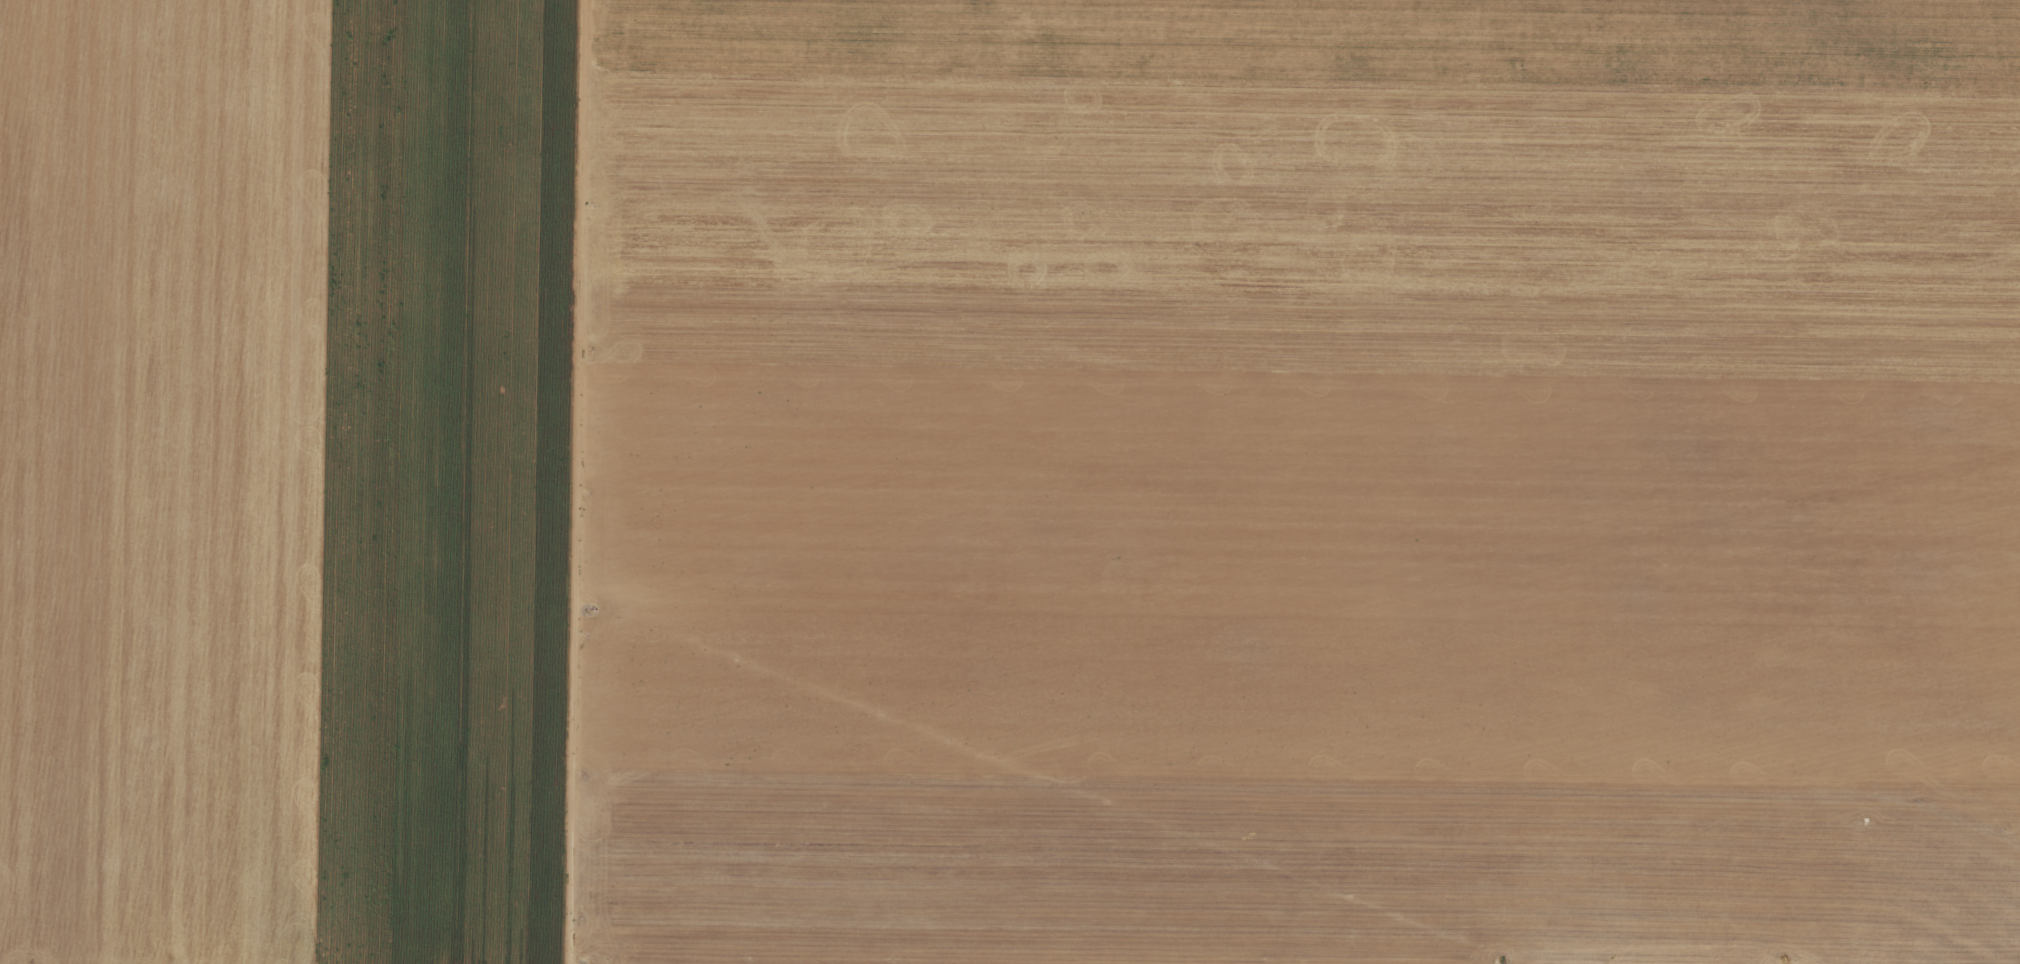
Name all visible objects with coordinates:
road: (1763, 961)

